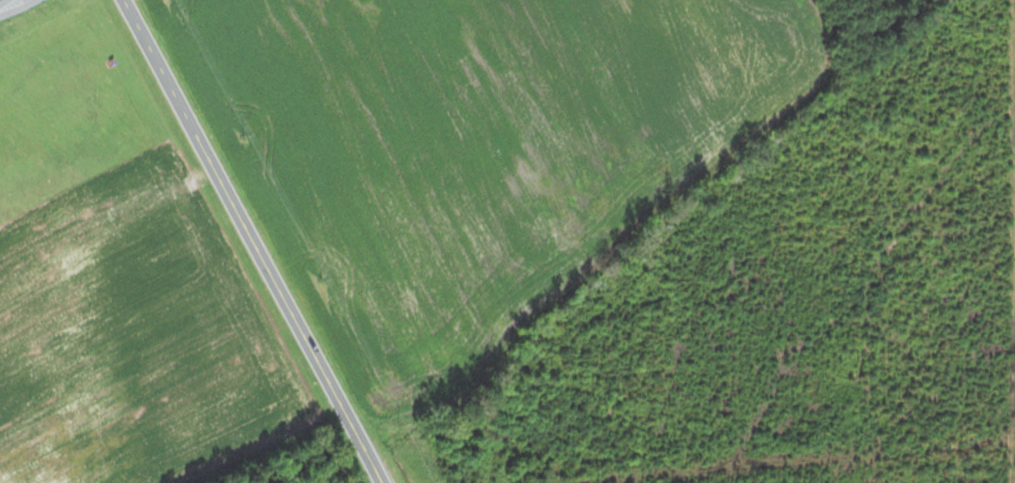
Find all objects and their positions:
road: (7, 4)
road: (249, 241)

